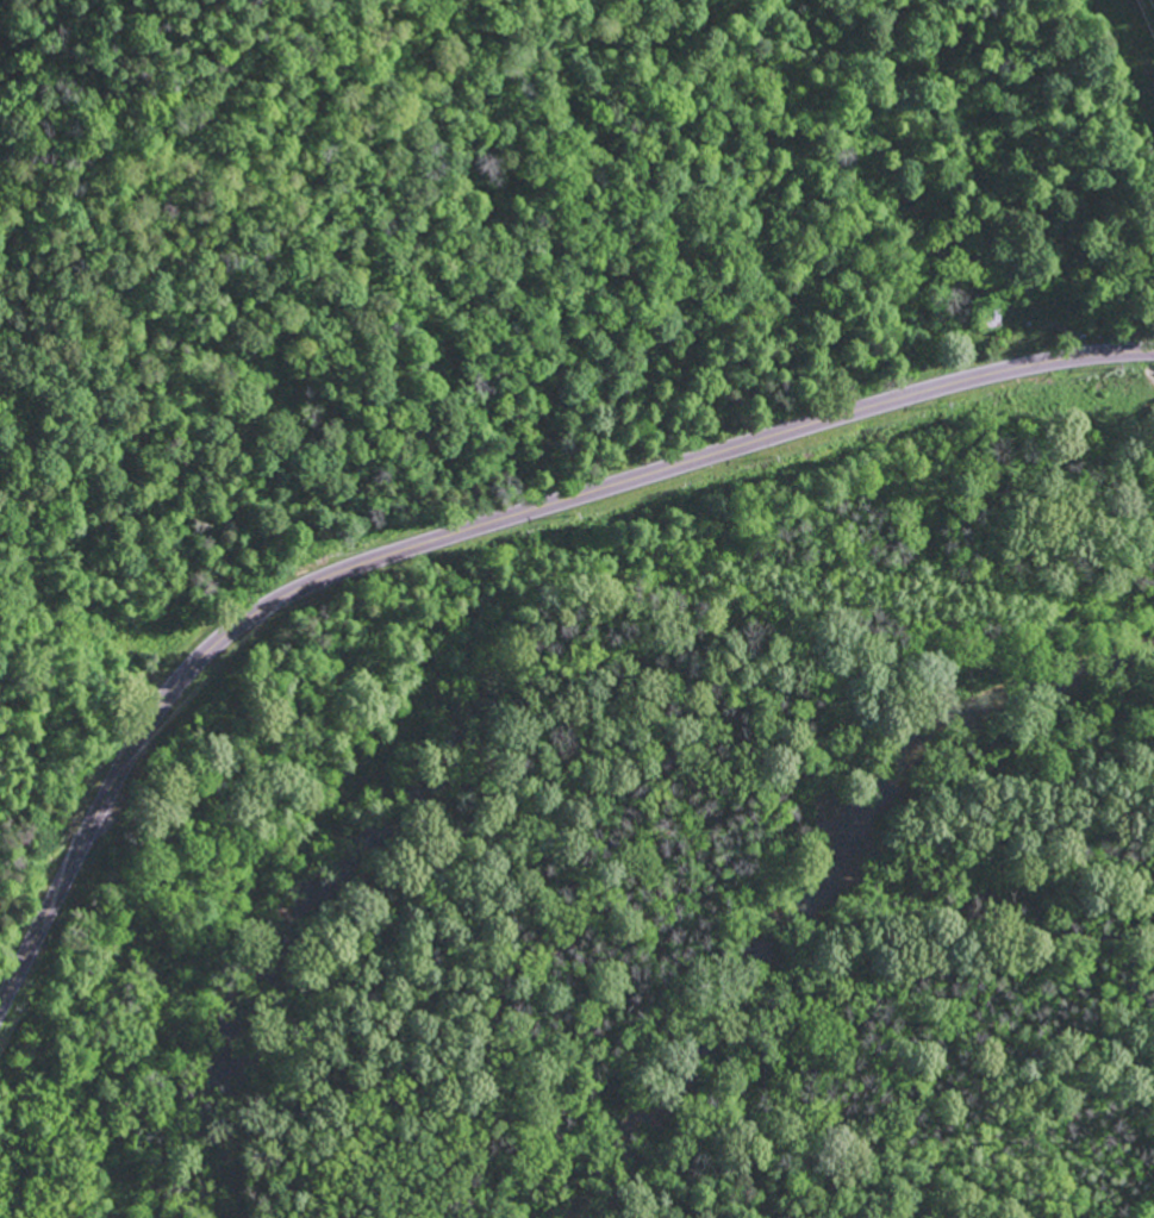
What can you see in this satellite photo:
road: (469, 530)

